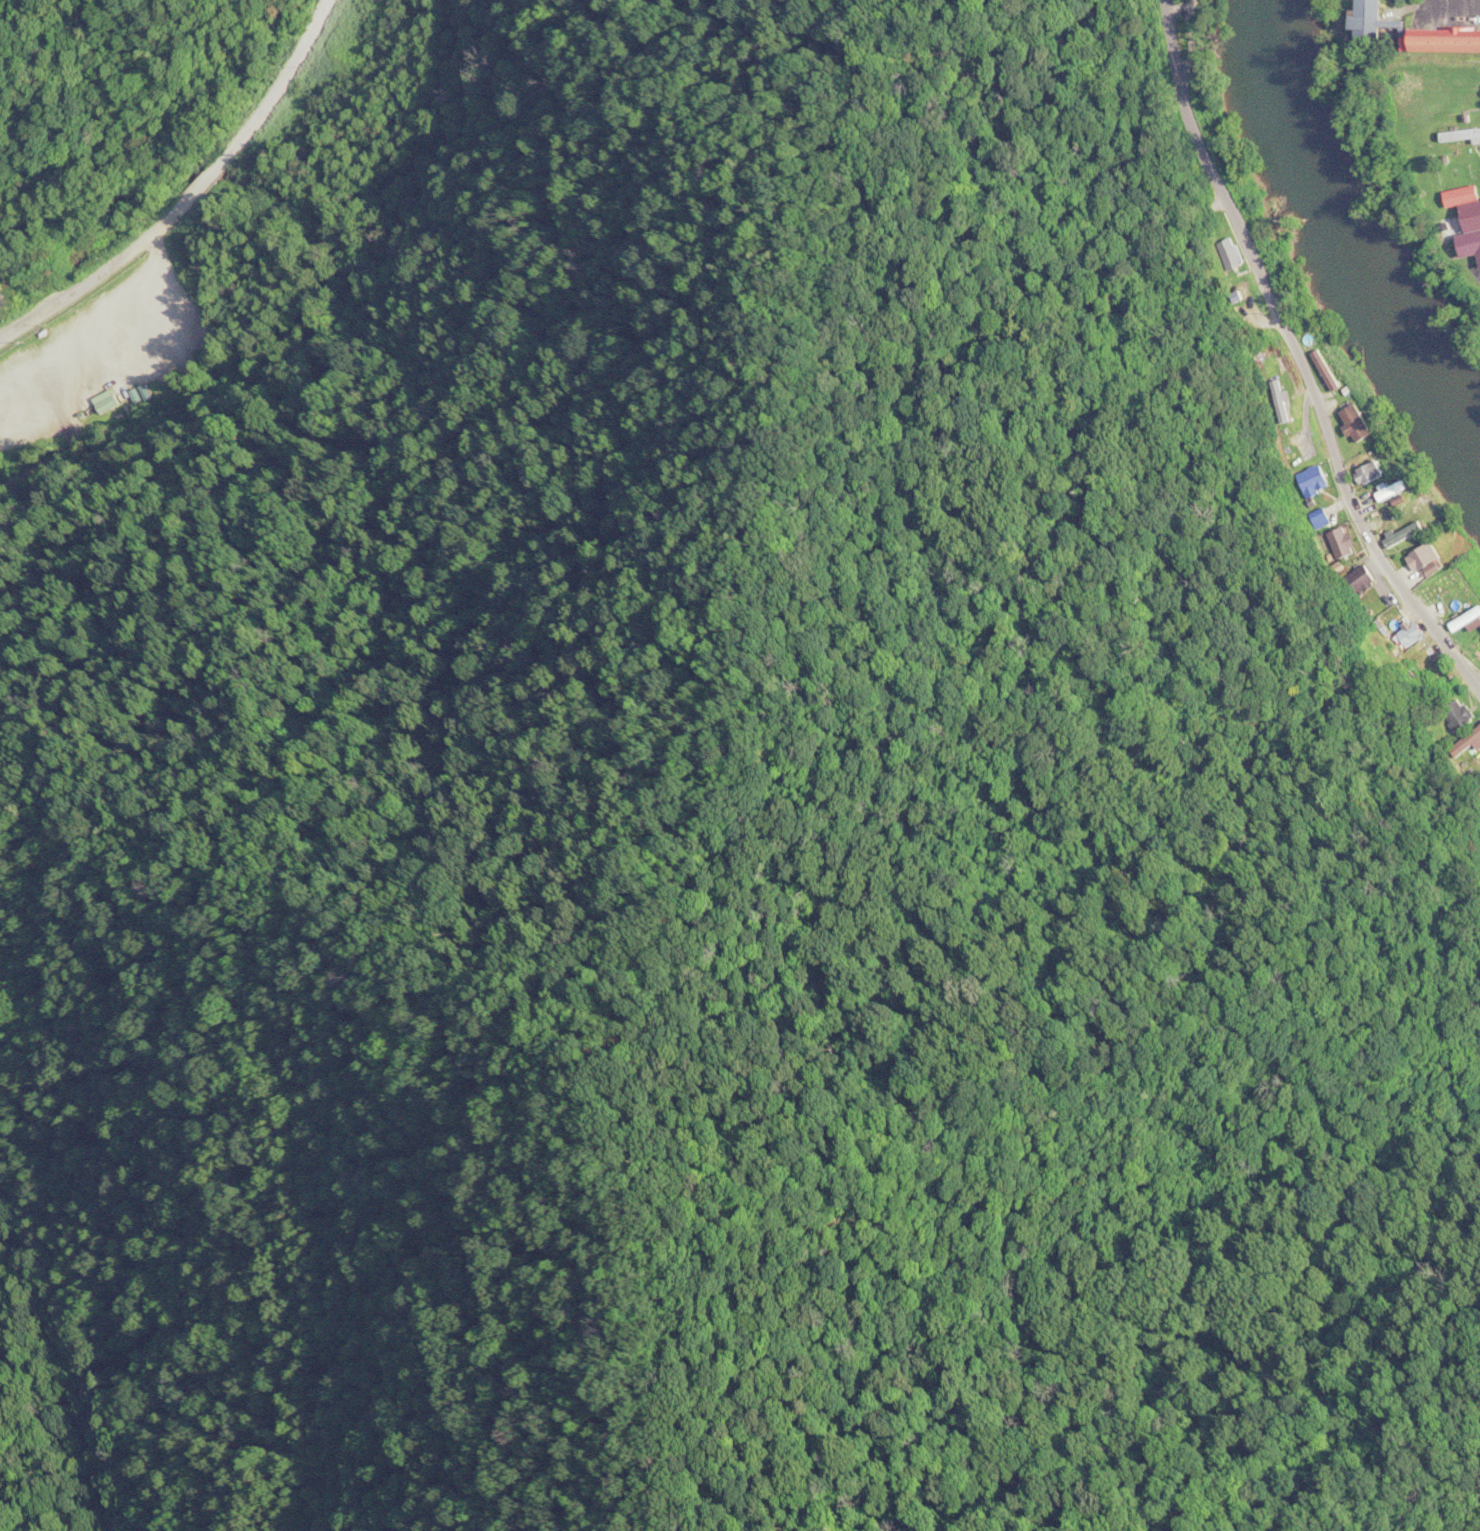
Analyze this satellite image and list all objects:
road: (1450, 14)
building: (1411, 31)
building: (1460, 195)
road: (196, 197)
building: (1461, 232)
river: (1340, 235)
building: (1228, 253)
road: (1291, 358)
building: (1324, 368)
building: (1276, 391)
building: (1353, 421)
building: (1367, 472)
building: (1312, 479)
building: (1405, 507)
building: (1321, 519)
building: (1402, 532)
building: (1341, 540)
building: (1424, 558)
building: (1359, 579)
building: (1438, 587)
building: (1395, 624)
building: (1478, 648)
building: (1457, 713)
building: (1466, 741)
building: (1473, 763)

